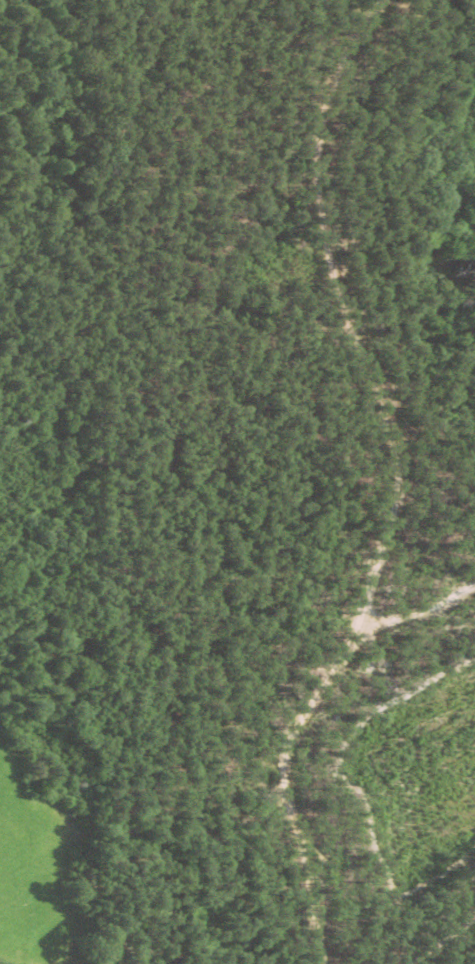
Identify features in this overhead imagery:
road: (320, 337)
road: (293, 726)

